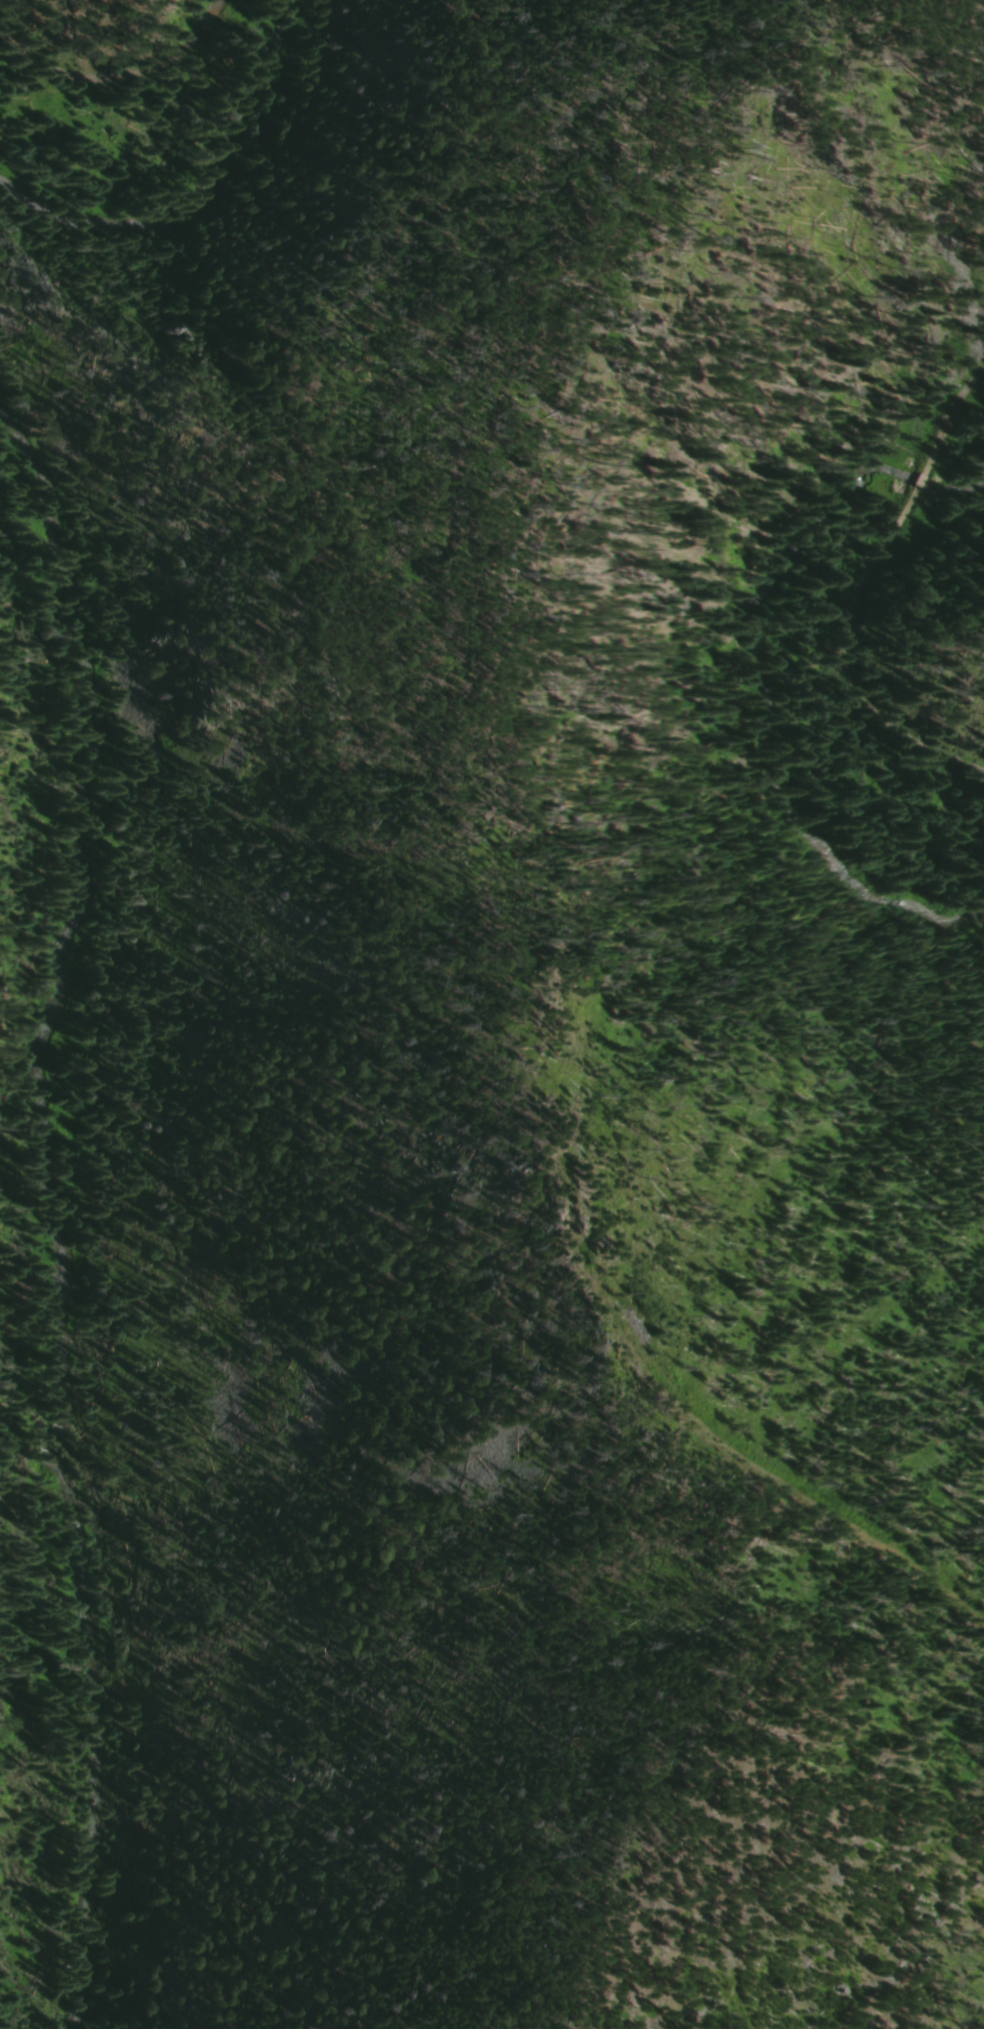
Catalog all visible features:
road: (118, 73)
river: (203, 198)
road: (954, 416)
road: (916, 486)
road: (848, 666)
river: (764, 679)
river: (55, 1208)

